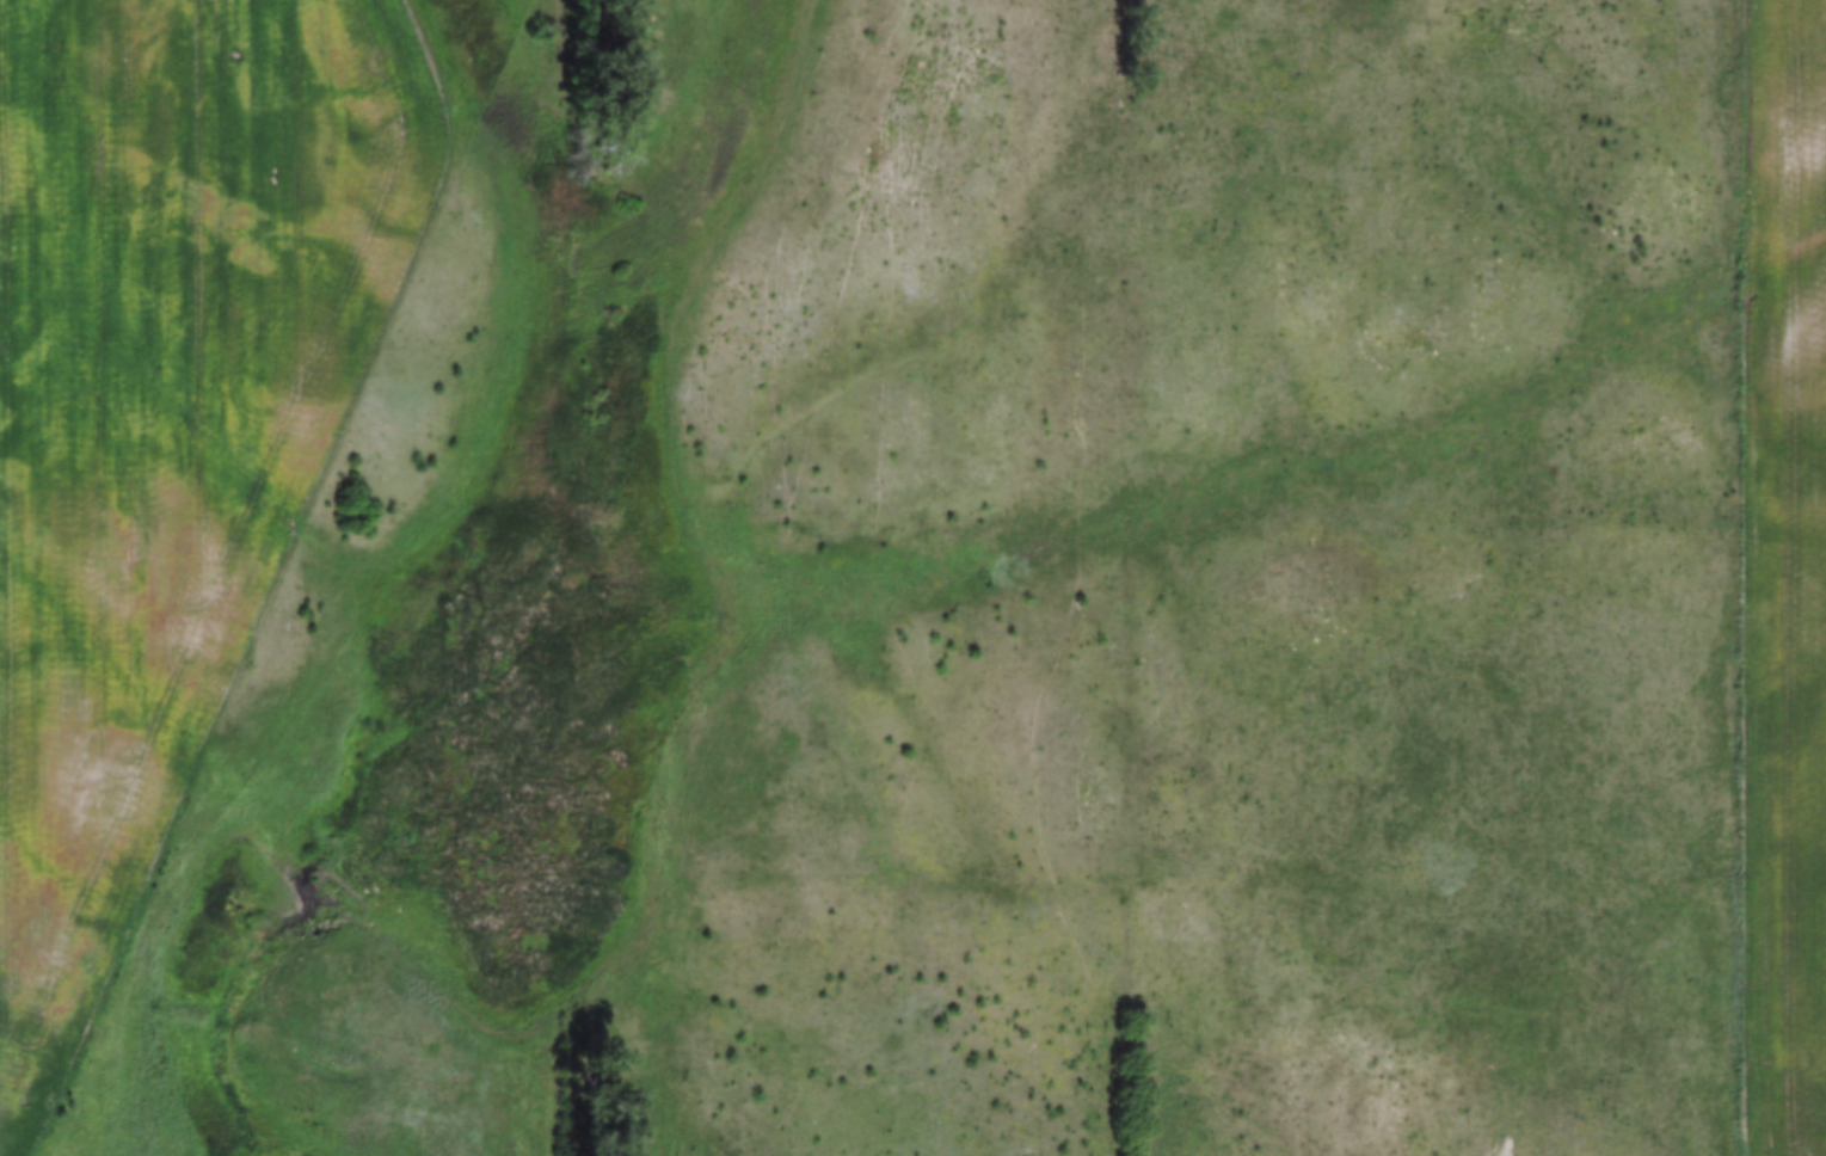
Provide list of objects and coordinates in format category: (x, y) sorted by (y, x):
road: (1752, 578)

